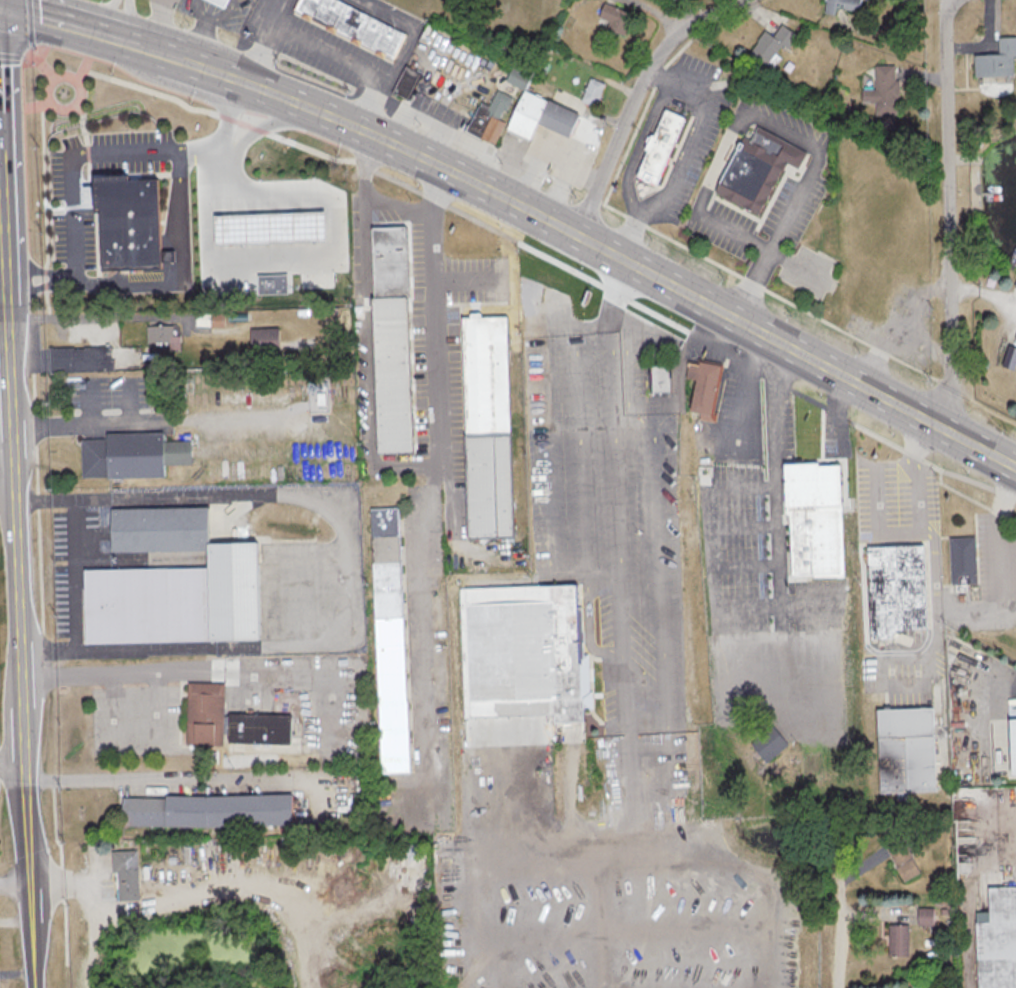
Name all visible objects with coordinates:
road: (0, 1)
road: (0, 1)
traffic signals: (1, 2)
building: (225, 2)
building: (840, 6)
road: (221, 13)
road: (114, 15)
building: (618, 17)
road: (130, 18)
road: (63, 19)
road: (35, 21)
building: (357, 24)
road: (203, 36)
road: (270, 41)
building: (775, 45)
road: (39, 48)
road: (159, 48)
road: (31, 49)
road: (408, 51)
road: (14, 55)
building: (996, 61)
road: (51, 66)
road: (215, 67)
road: (85, 68)
road: (58, 78)
road: (253, 82)
building: (408, 82)
road: (155, 89)
building: (883, 89)
road: (279, 92)
building: (595, 92)
road: (637, 95)
road: (44, 103)
road: (228, 109)
building: (545, 116)
building: (492, 118)
road: (90, 121)
road: (254, 124)
road: (779, 127)
road: (645, 128)
building: (663, 147)
road: (685, 151)
building: (761, 168)
road: (388, 172)
road: (223, 177)
road: (630, 197)
road: (52, 206)
road: (5, 212)
road: (948, 213)
building: (128, 220)
building: (269, 225)
road: (225, 227)
road: (334, 229)
road: (175, 231)
road: (167, 254)
road: (79, 262)
road: (45, 269)
road: (168, 272)
road: (657, 273)
road: (551, 274)
road: (462, 278)
building: (272, 281)
road: (45, 286)
road: (775, 290)
road: (617, 328)
road: (365, 331)
building: (161, 333)
building: (395, 338)
building: (267, 339)
building: (81, 359)
building: (657, 378)
road: (741, 384)
building: (701, 388)
road: (92, 407)
road: (842, 410)
road: (89, 422)
building: (491, 426)
road: (578, 430)
road: (8, 448)
road: (439, 455)
building: (135, 456)
road: (546, 484)
road: (17, 495)
road: (878, 516)
building: (812, 520)
road: (616, 528)
road: (708, 537)
road: (932, 558)
building: (961, 560)
road: (72, 573)
building: (178, 583)
building: (894, 589)
road: (589, 633)
building: (393, 640)
building: (526, 653)
road: (203, 673)
road: (980, 707)
building: (207, 715)
road: (667, 716)
building: (262, 729)
building: (766, 744)
building: (1010, 745)
building: (903, 750)
road: (14, 763)
road: (153, 779)
building: (211, 811)
building: (899, 855)
building: (129, 876)
road: (16, 884)
building: (924, 914)
building: (896, 940)
building: (997, 940)
road: (837, 948)

